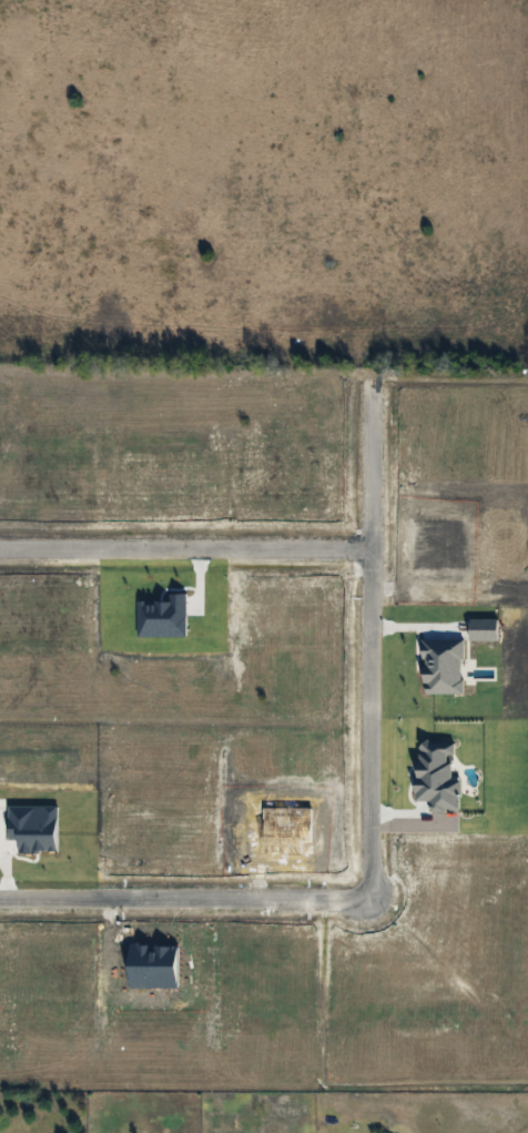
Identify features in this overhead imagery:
road: (176, 557)
road: (370, 721)
road: (187, 908)

